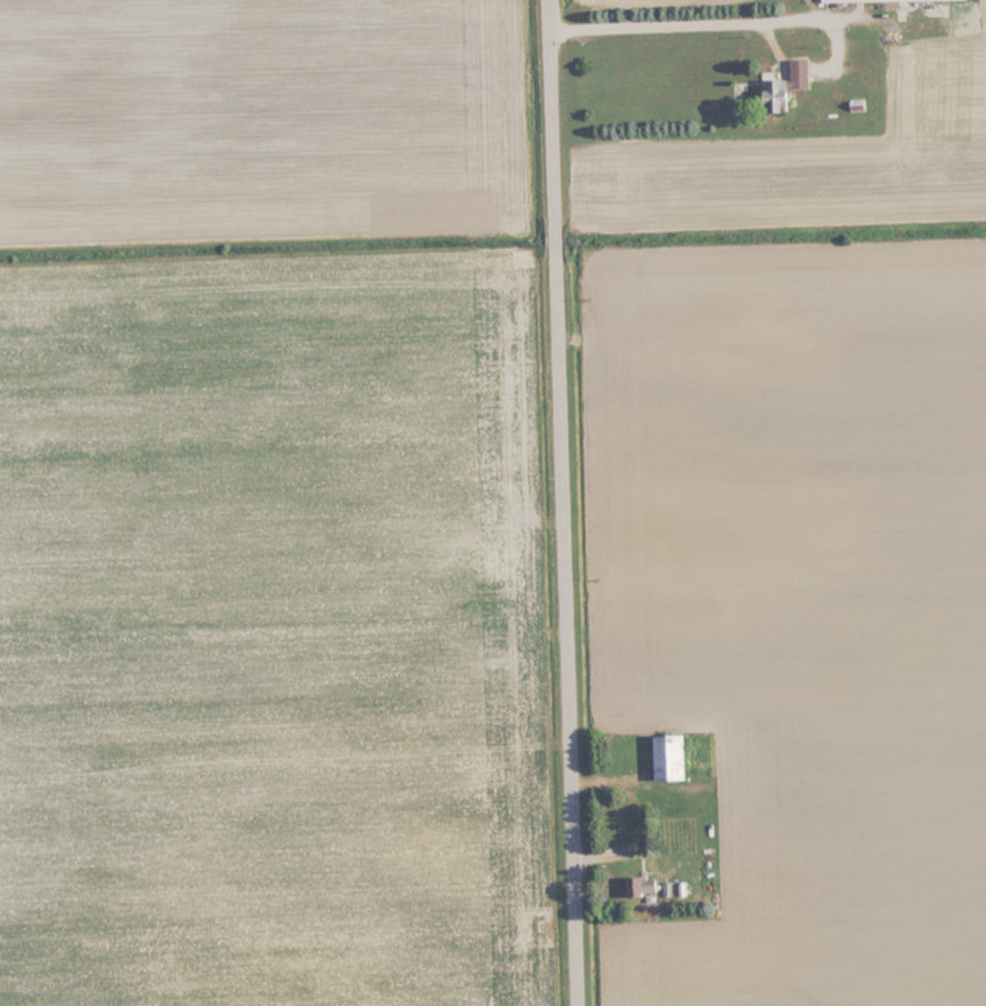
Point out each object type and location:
building: (887, 0)
building: (790, 86)
road: (572, 502)
building: (672, 757)
building: (638, 887)

